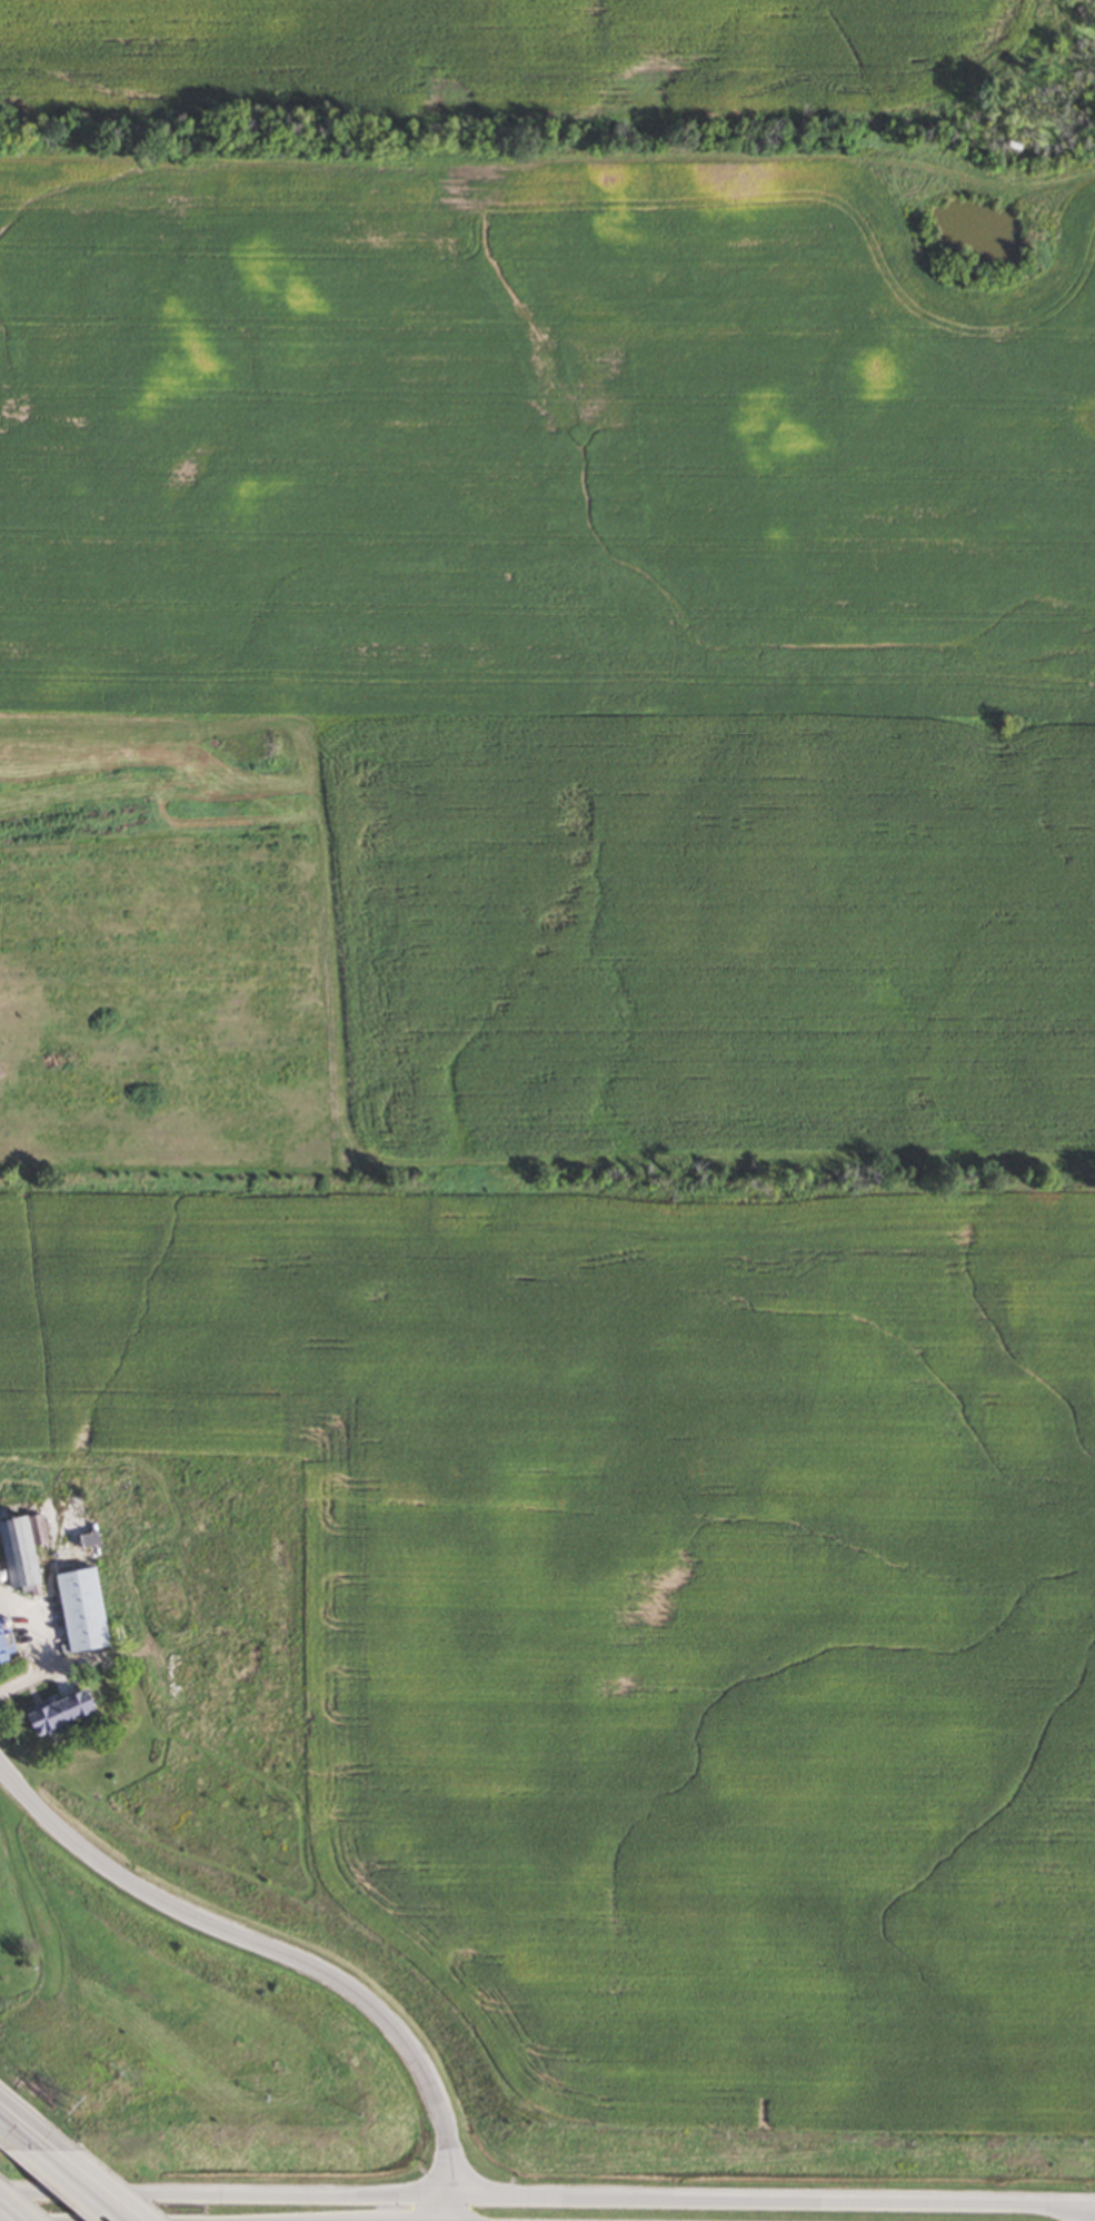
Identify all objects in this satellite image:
building: (26, 1550)
building: (86, 1609)
building: (8, 1639)
road: (37, 1644)
building: (66, 1711)
park: (69, 1943)
road: (285, 1951)
power tower: (76, 2105)
road: (32, 2120)
road: (16, 2132)
road: (76, 2183)
road: (111, 2184)
road: (233, 2195)
road: (769, 2202)
road: (1084, 2205)
road: (14, 2208)
road: (1074, 2213)

